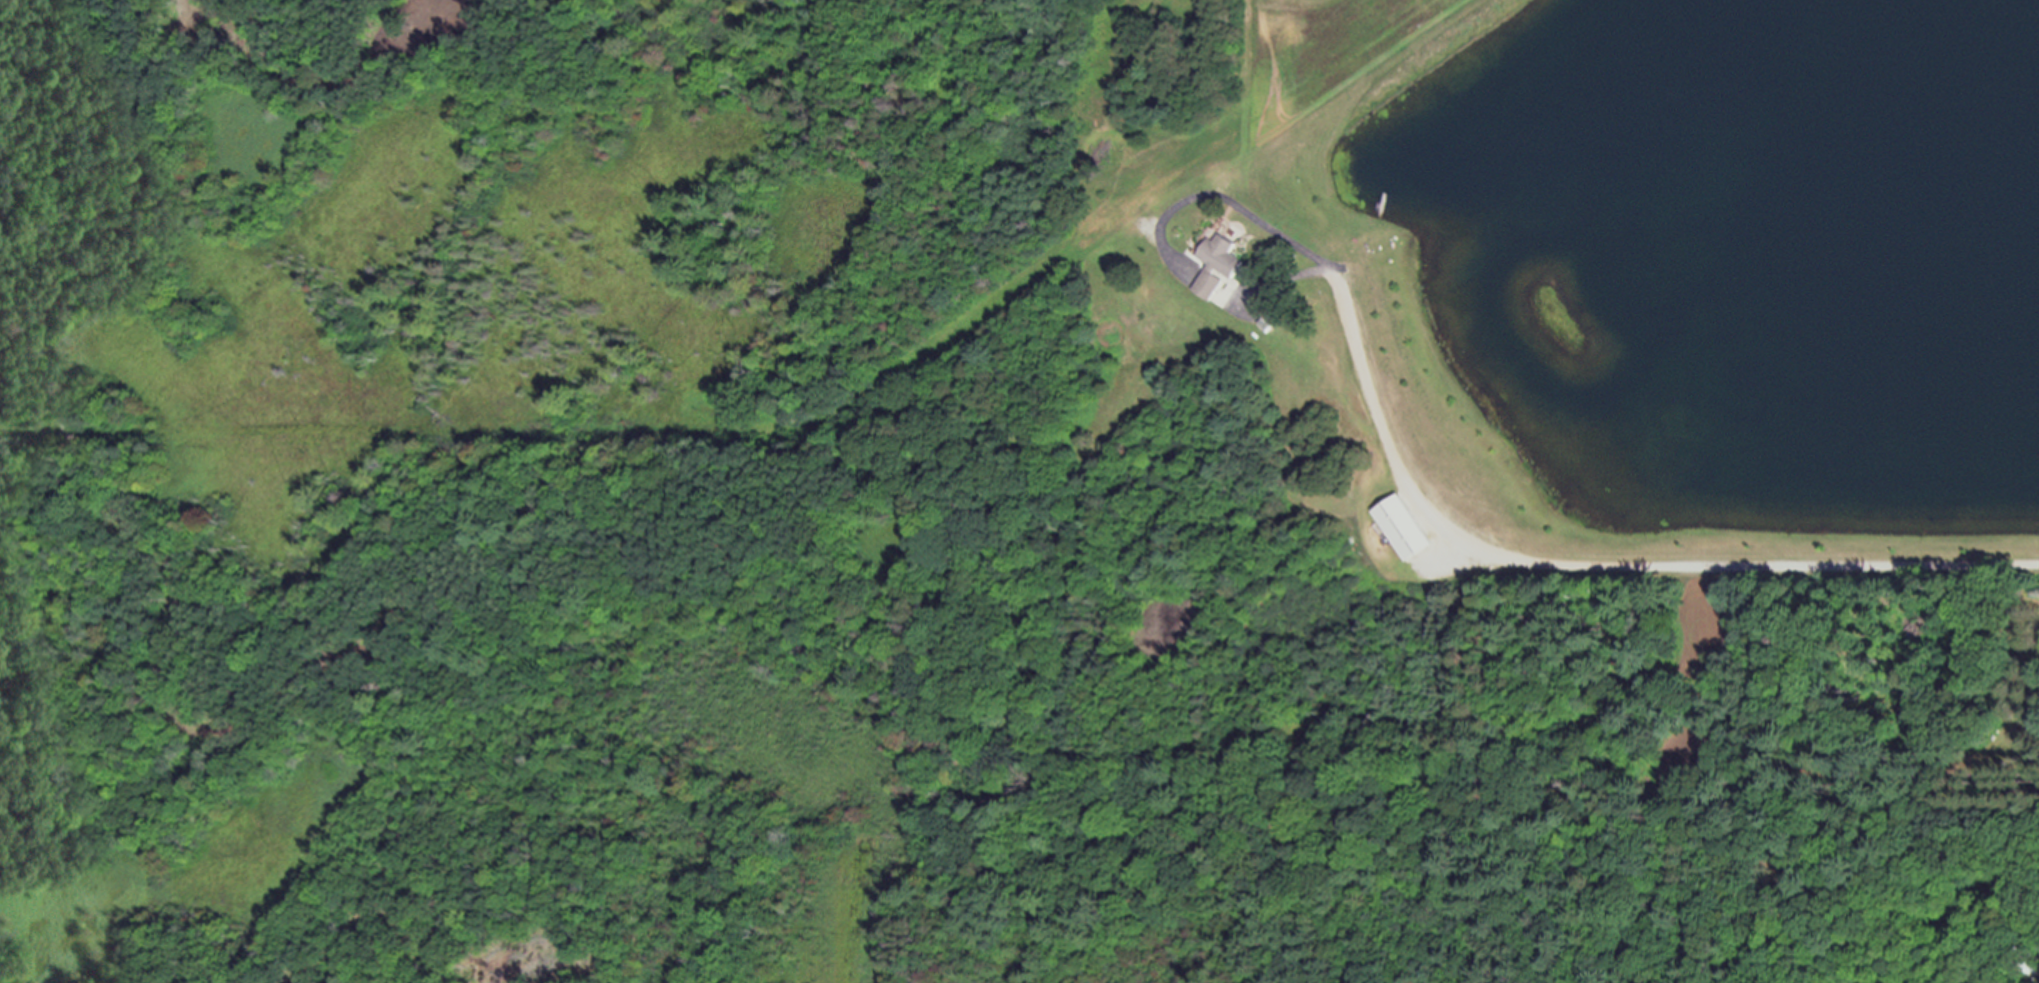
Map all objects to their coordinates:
building: (1219, 272)
building: (1402, 527)
road: (1593, 571)

